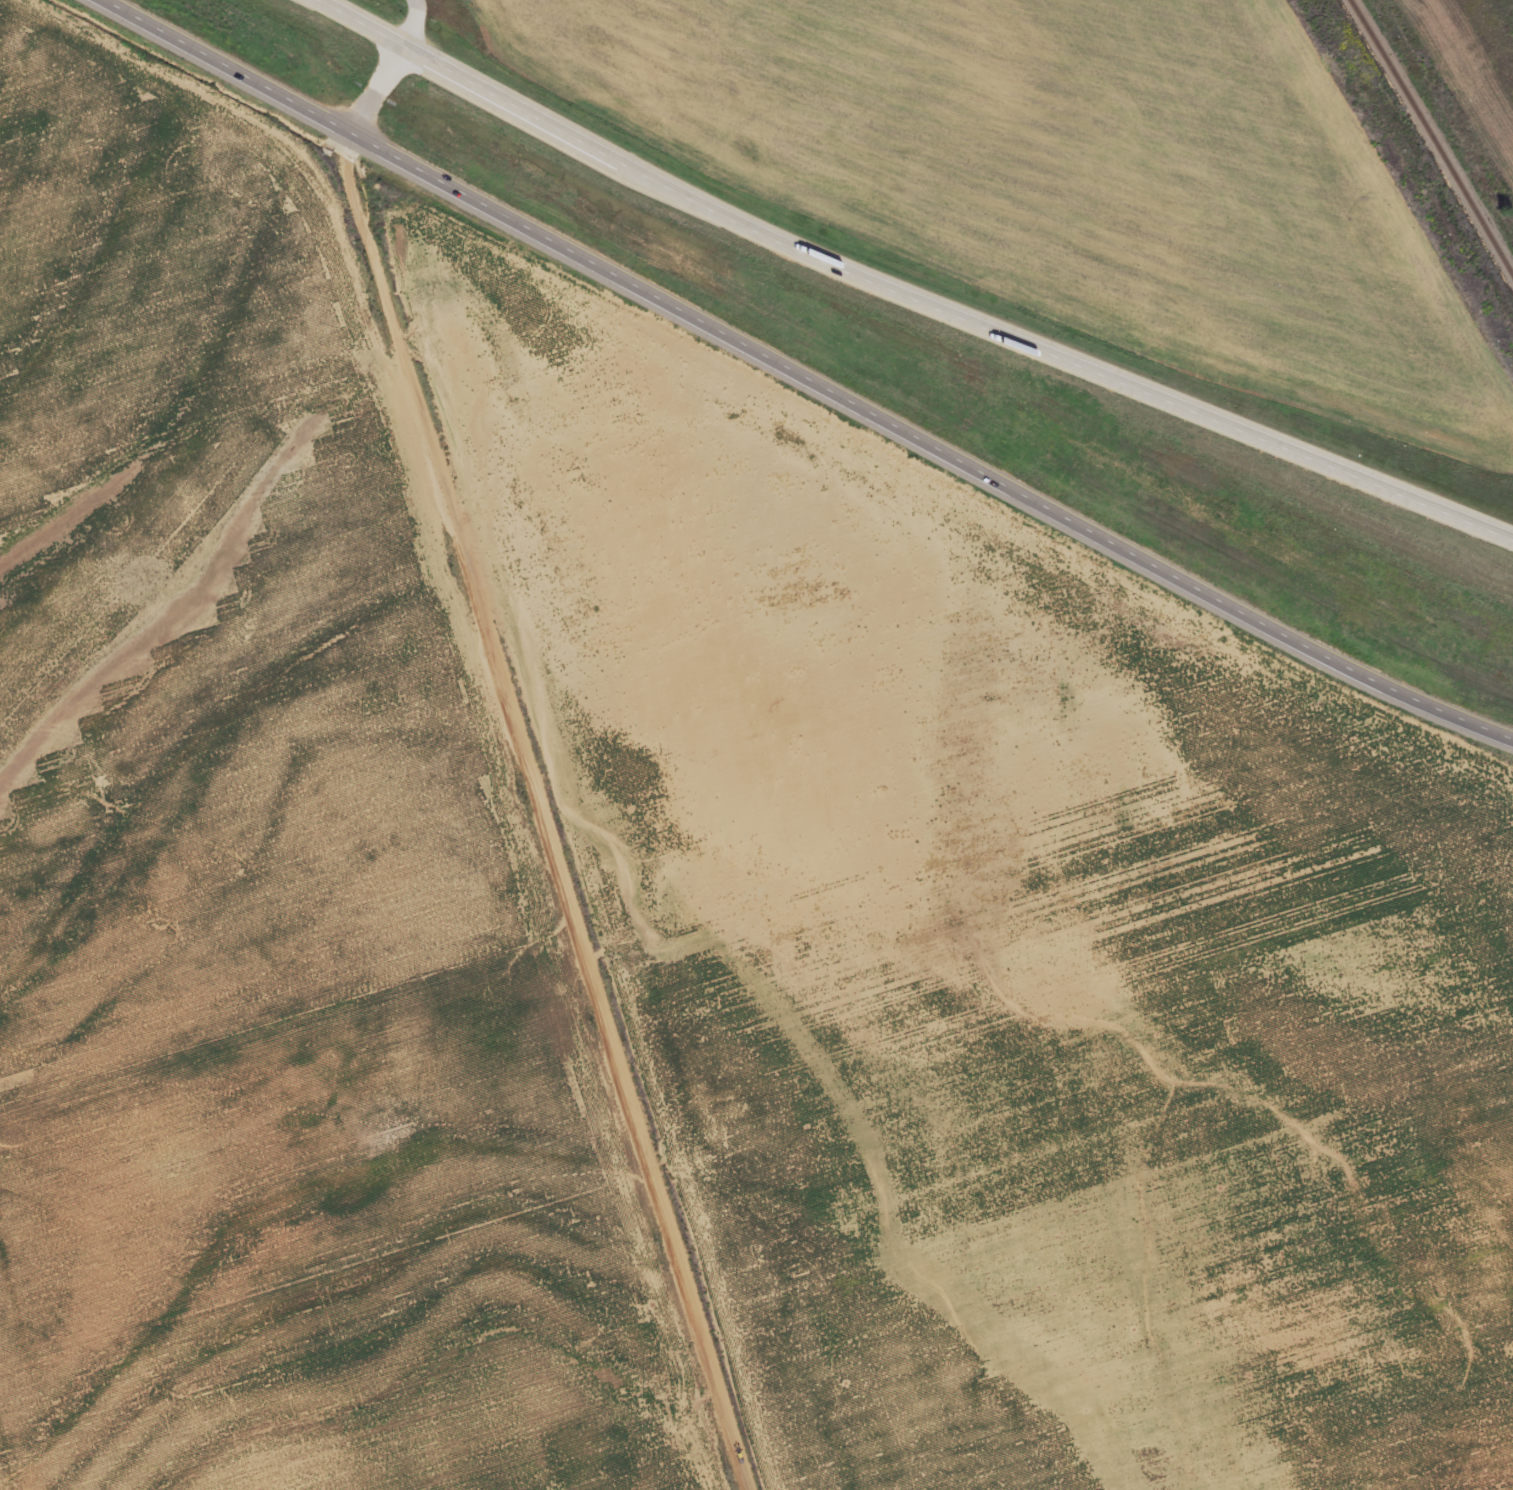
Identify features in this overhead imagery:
road: (412, 26)
railway: (1432, 135)
road: (900, 290)
road: (801, 378)
road: (526, 765)

